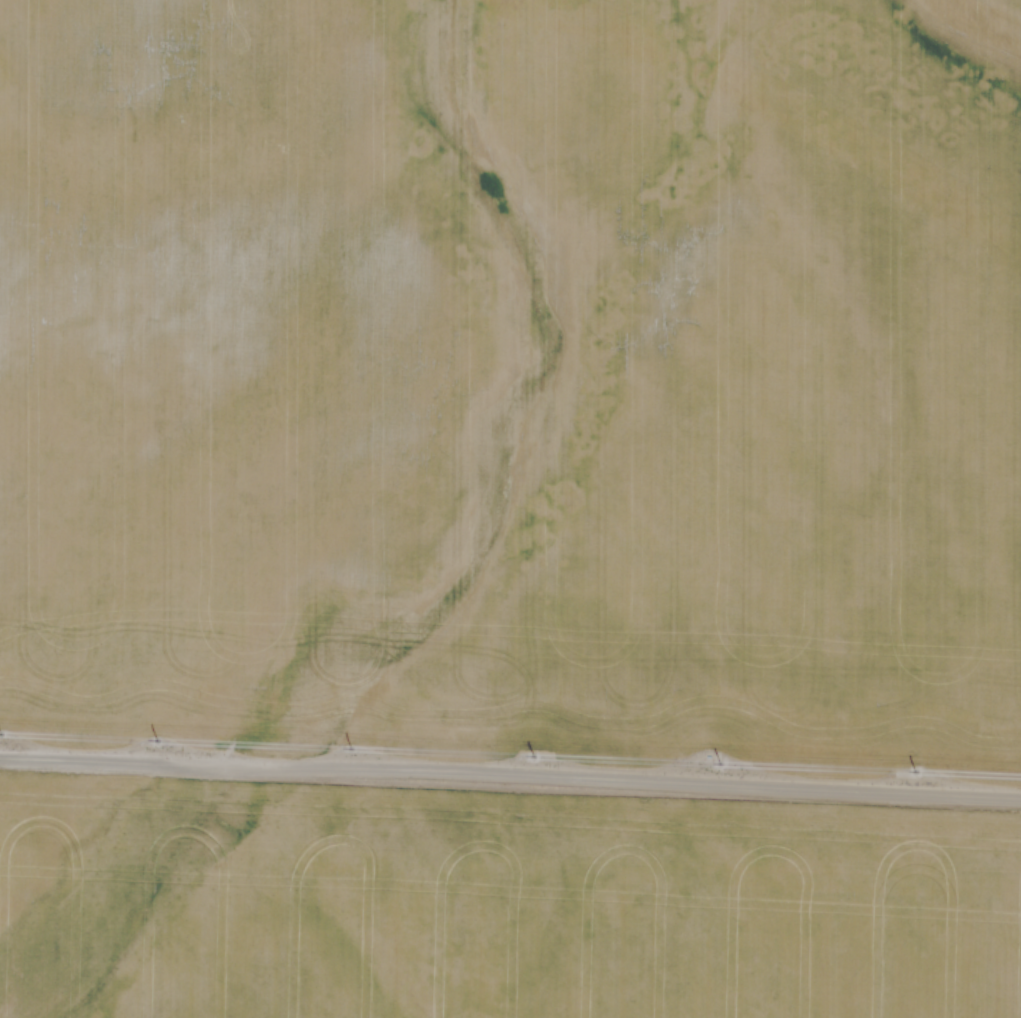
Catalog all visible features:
road: (510, 770)

